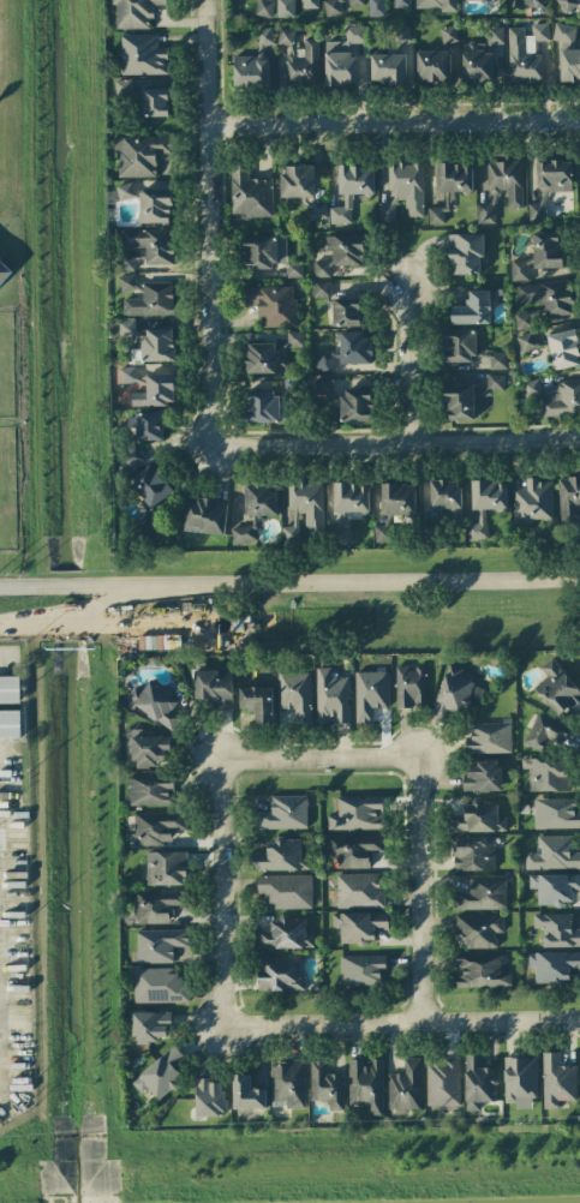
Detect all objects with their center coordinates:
building: (477, 0)
building: (355, 2)
building: (310, 4)
building: (401, 4)
building: (530, 4)
building: (435, 5)
building: (567, 5)
building: (376, 7)
building: (264, 8)
building: (285, 8)
building: (331, 8)
building: (133, 13)
building: (563, 32)
building: (448, 35)
building: (401, 36)
building: (494, 36)
building: (286, 38)
building: (525, 53)
building: (142, 55)
building: (342, 58)
building: (253, 62)
building: (476, 65)
building: (569, 65)
building: (303, 66)
building: (432, 66)
building: (388, 68)
building: (154, 102)
road: (395, 126)
building: (138, 155)
building: (554, 175)
building: (454, 178)
building: (297, 181)
building: (501, 188)
building: (351, 190)
building: (403, 190)
building: (250, 193)
building: (149, 203)
building: (537, 205)
building: (315, 209)
building: (435, 215)
building: (151, 244)
building: (546, 250)
building: (259, 252)
building: (339, 253)
building: (465, 253)
road: (210, 257)
building: (126, 262)
building: (293, 269)
building: (520, 270)
building: (126, 282)
building: (321, 289)
building: (151, 300)
building: (545, 301)
building: (273, 305)
building: (473, 309)
building: (345, 312)
building: (124, 328)
building: (293, 340)
building: (526, 342)
building: (157, 345)
building: (467, 349)
building: (563, 349)
building: (347, 352)
building: (263, 359)
road: (407, 364)
building: (127, 375)
building: (293, 388)
building: (323, 388)
building: (531, 388)
building: (155, 391)
building: (470, 397)
building: (560, 399)
building: (355, 405)
building: (262, 406)
building: (148, 426)
road: (570, 439)
road: (425, 443)
building: (149, 486)
building: (489, 495)
building: (446, 496)
building: (259, 498)
building: (568, 499)
building: (533, 501)
building: (393, 507)
building: (347, 508)
building: (304, 509)
building: (205, 516)
building: (477, 527)
building: (244, 534)
road: (388, 582)
road: (113, 587)
road: (16, 588)
road: (97, 605)
road: (2, 656)
building: (214, 687)
building: (409, 687)
building: (10, 689)
building: (556, 689)
building: (295, 694)
building: (370, 694)
building: (453, 694)
building: (331, 698)
building: (154, 704)
building: (257, 704)
building: (10, 724)
building: (546, 732)
building: (488, 737)
building: (145, 749)
road: (313, 760)
building: (546, 773)
building: (482, 777)
building: (150, 790)
building: (283, 813)
building: (357, 813)
building: (478, 818)
building: (156, 827)
building: (353, 850)
building: (473, 854)
building: (554, 854)
building: (281, 856)
building: (166, 868)
building: (555, 888)
road: (412, 890)
building: (285, 891)
building: (358, 891)
building: (482, 893)
building: (157, 905)
building: (359, 926)
building: (556, 929)
building: (478, 930)
building: (286, 934)
road: (215, 936)
building: (159, 945)
building: (552, 965)
building: (361, 970)
building: (479, 971)
building: (279, 974)
building: (159, 986)
road: (440, 1021)
building: (150, 1027)
building: (160, 1075)
building: (520, 1078)
building: (557, 1081)
building: (442, 1082)
building: (478, 1082)
building: (288, 1083)
building: (365, 1084)
building: (325, 1085)
building: (405, 1087)
building: (246, 1094)
building: (209, 1097)

